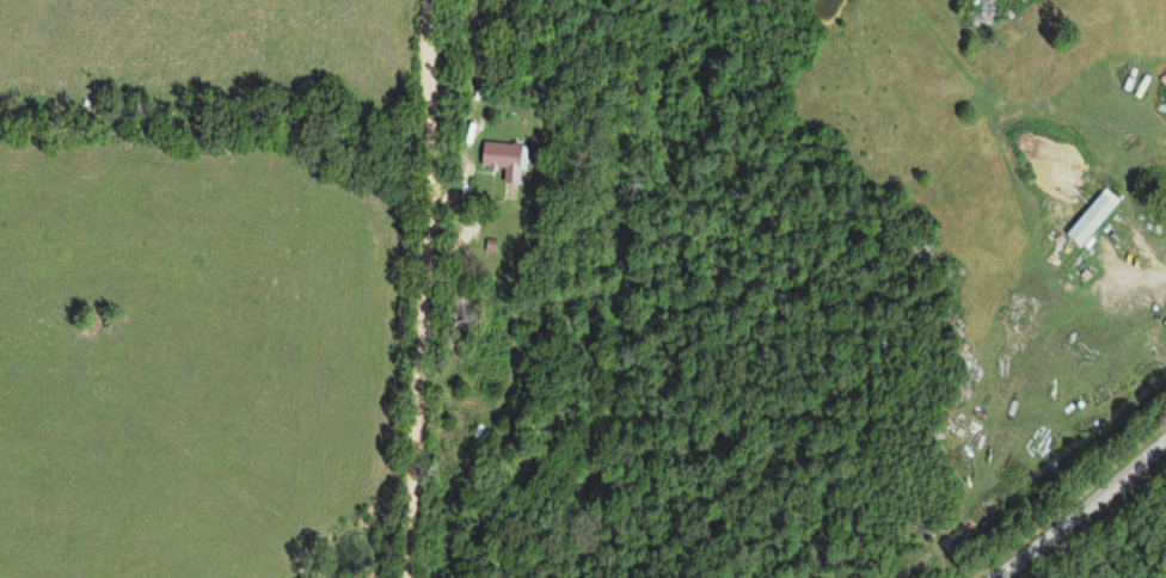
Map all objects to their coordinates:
building: (502, 160)
road: (465, 207)
road: (416, 289)
road: (1076, 508)

